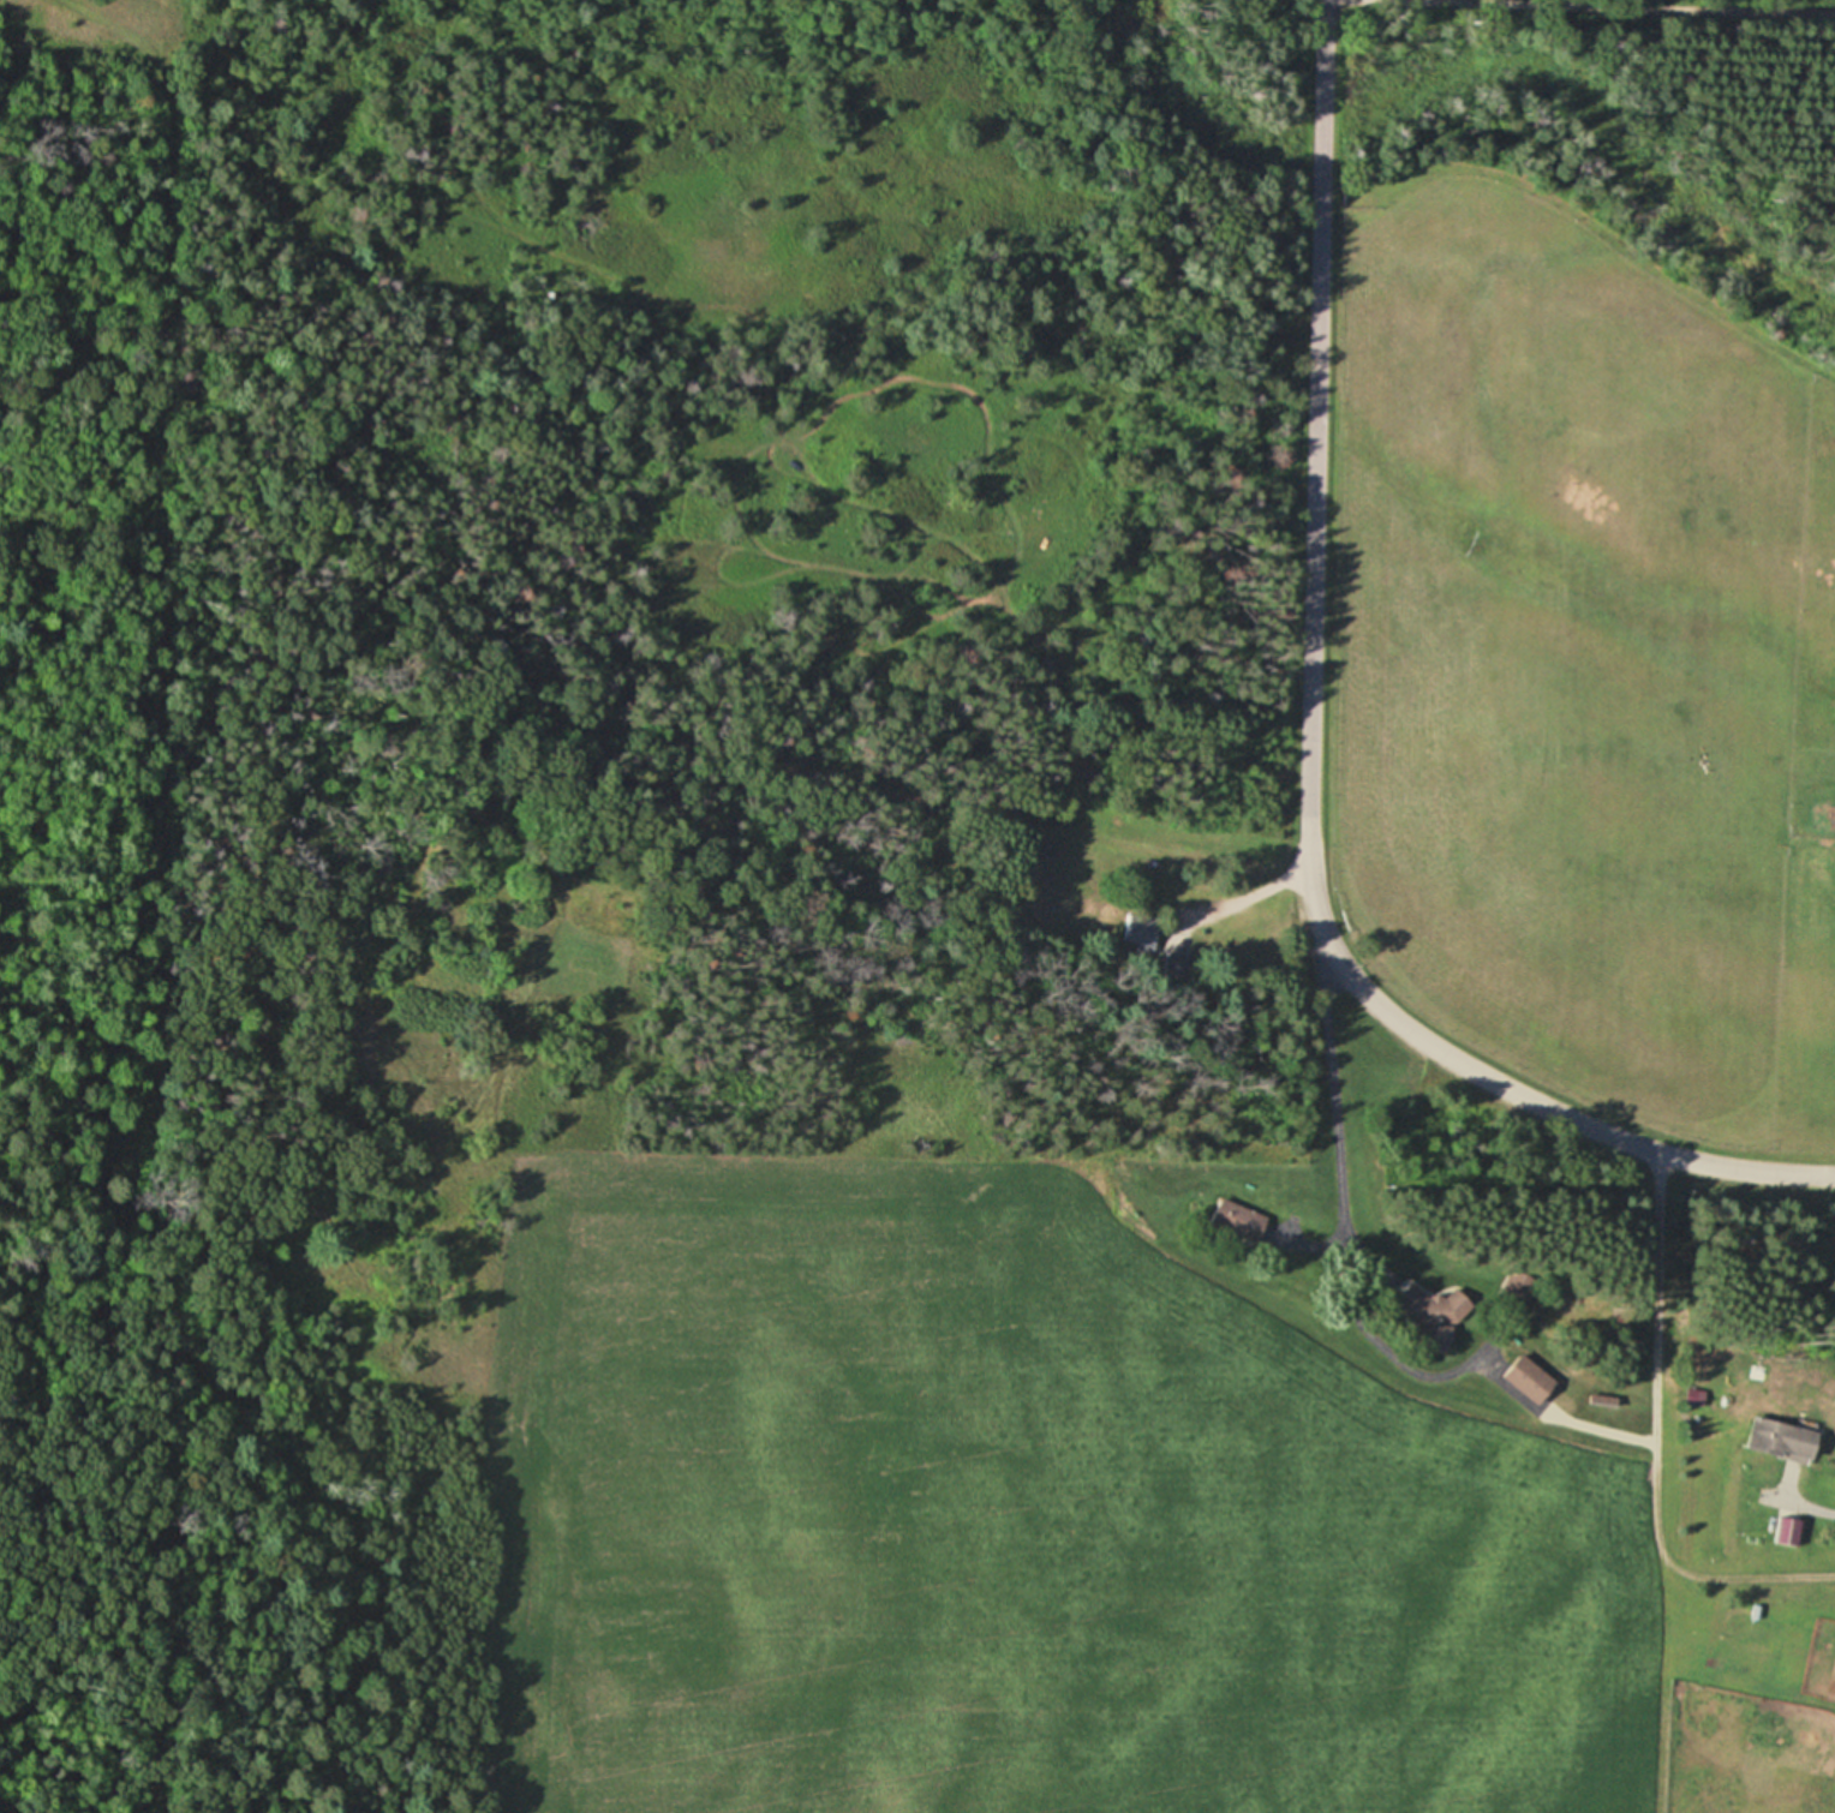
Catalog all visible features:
road: (1579, 6)
road: (1310, 759)
road: (1263, 888)
building: (1143, 934)
road: (1341, 1197)
building: (1238, 1219)
building: (1431, 1320)
building: (1528, 1377)
building: (1783, 1440)
road: (1657, 1444)
road: (1811, 1506)
building: (1787, 1530)

